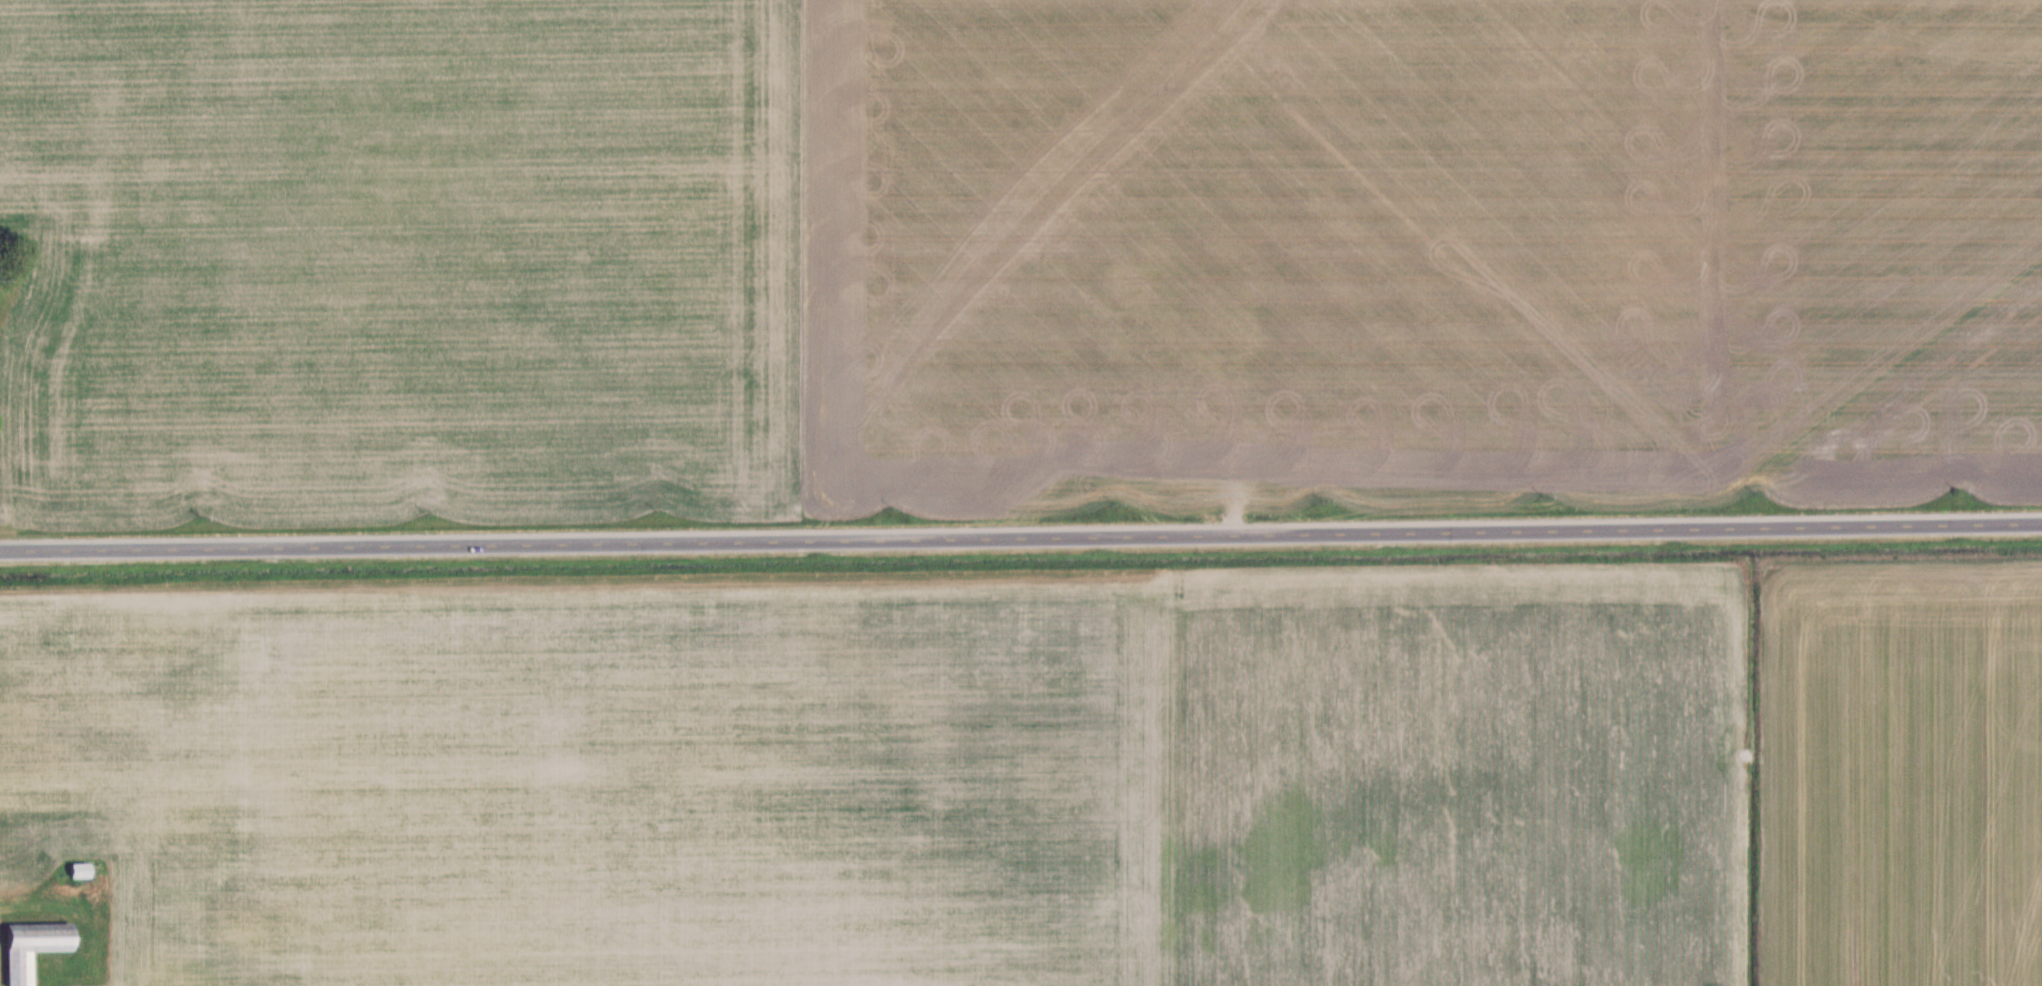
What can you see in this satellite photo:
road: (1021, 535)
building: (89, 830)
building: (81, 870)
building: (35, 947)

